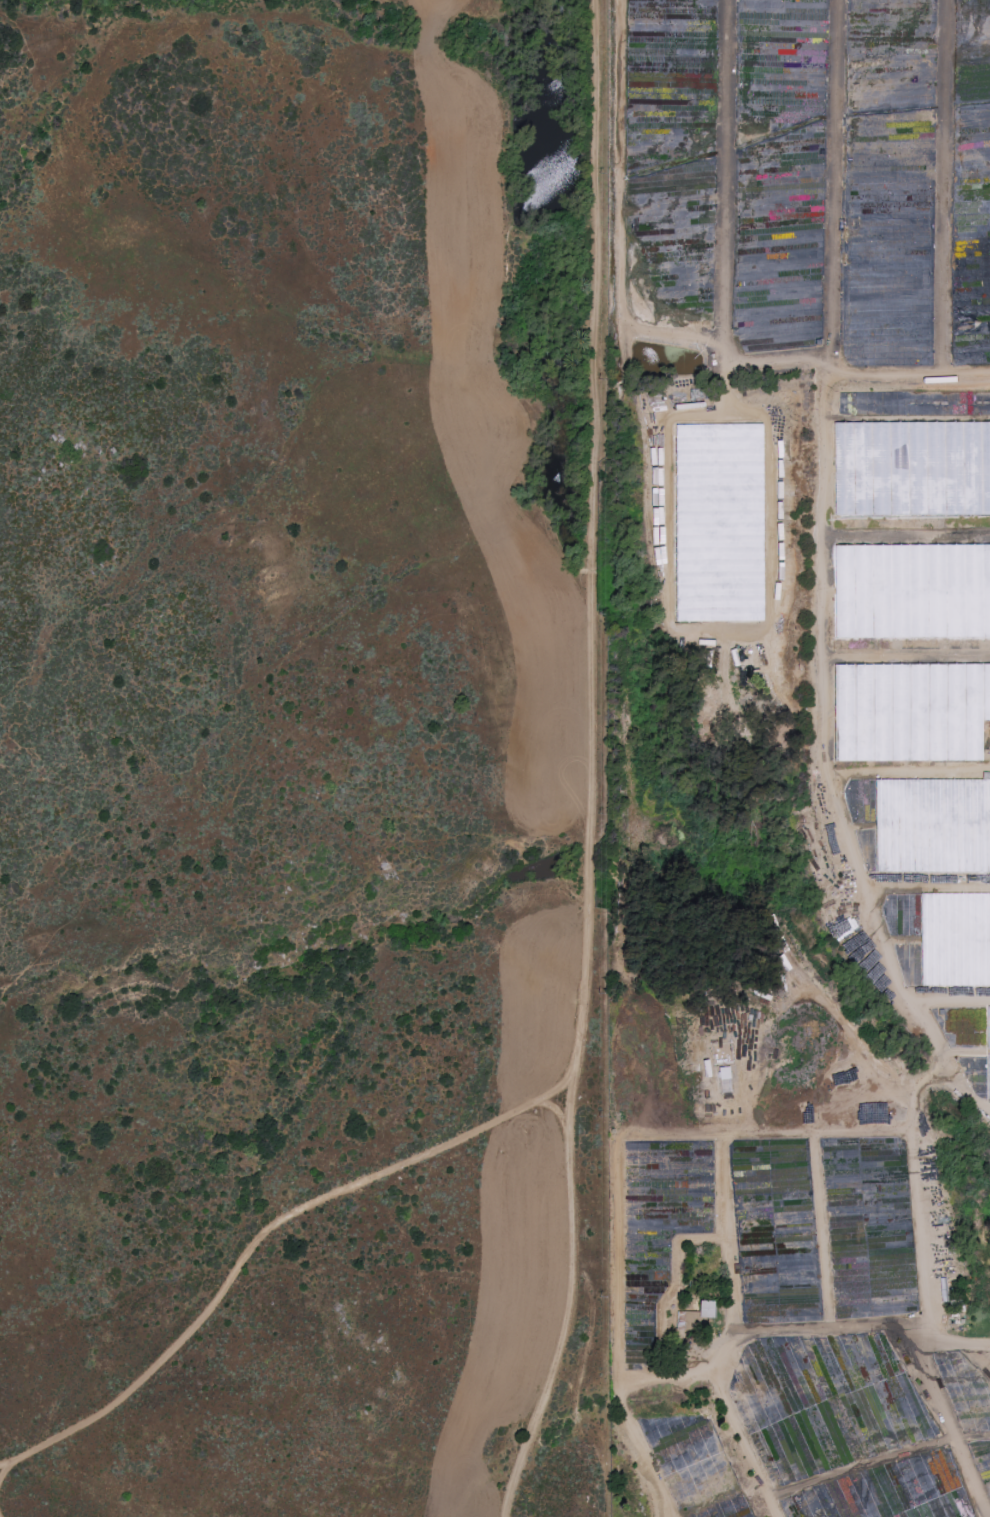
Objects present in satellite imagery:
building: (910, 469)
building: (721, 523)
building: (910, 591)
building: (909, 712)
road: (589, 763)
building: (932, 826)
building: (955, 940)
building: (988, 1051)
building: (705, 1309)
road: (849, 1348)

